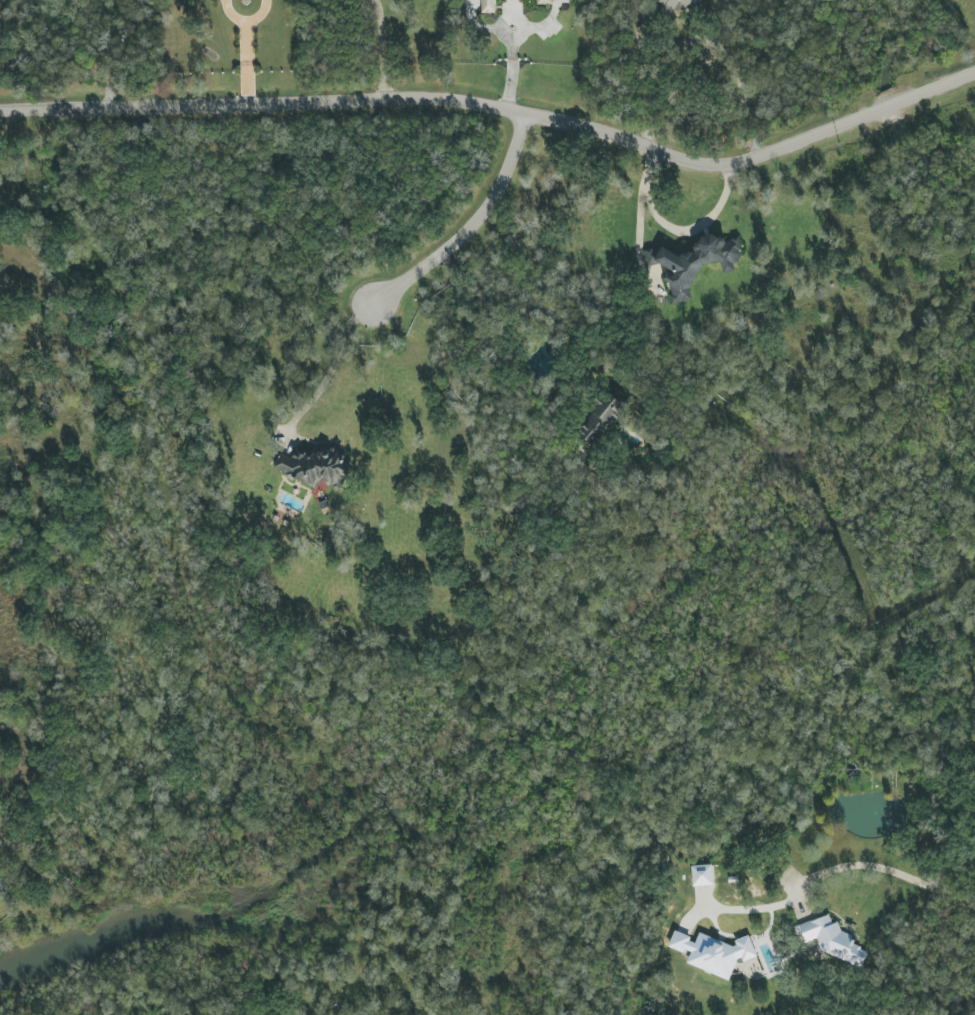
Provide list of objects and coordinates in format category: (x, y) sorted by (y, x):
building: (550, 1)
building: (679, 5)
building: (488, 6)
road: (699, 41)
road: (379, 48)
road: (243, 52)
road: (511, 58)
road: (499, 109)
road: (468, 226)
road: (673, 228)
building: (694, 262)
road: (328, 368)
building: (600, 419)
building: (313, 467)
road: (889, 872)
building: (703, 876)
building: (832, 940)
building: (713, 952)

